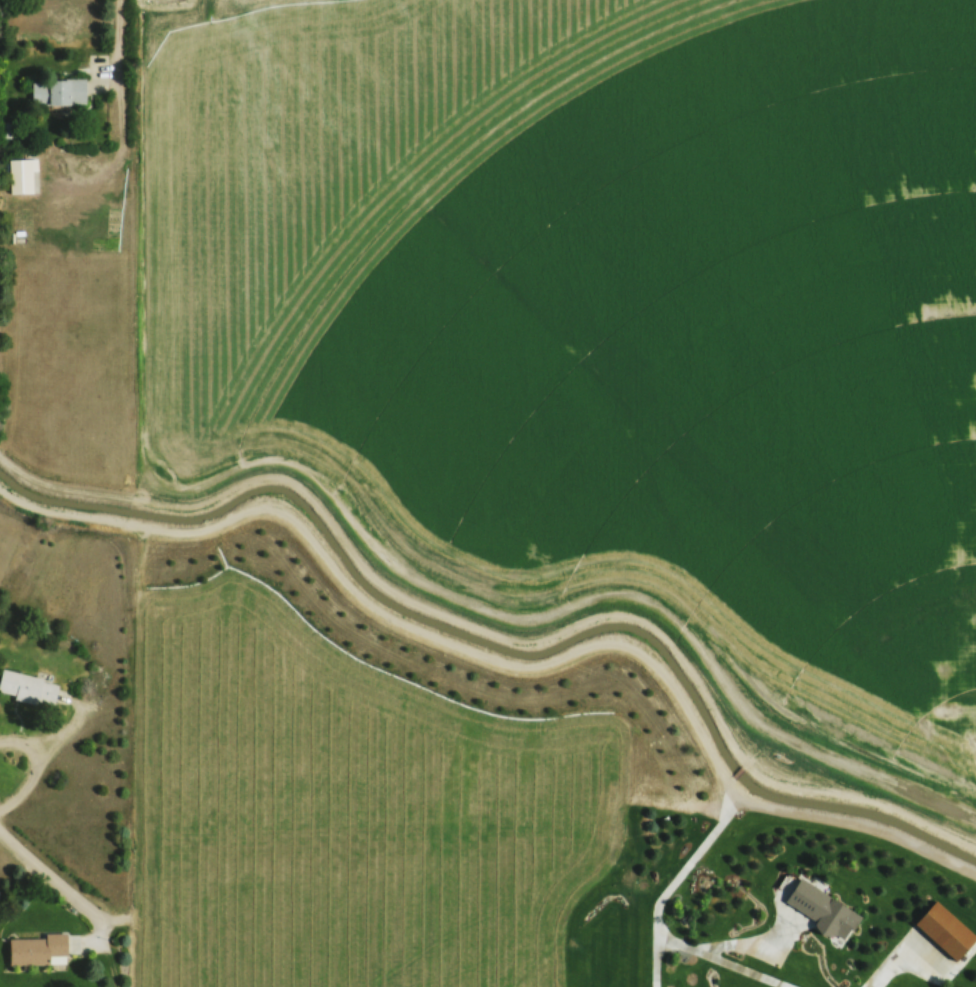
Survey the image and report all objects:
road: (121, 45)
building: (56, 91)
building: (21, 175)
road: (501, 663)
building: (27, 688)
road: (42, 758)
road: (52, 874)
building: (819, 909)
building: (944, 930)
building: (36, 950)

